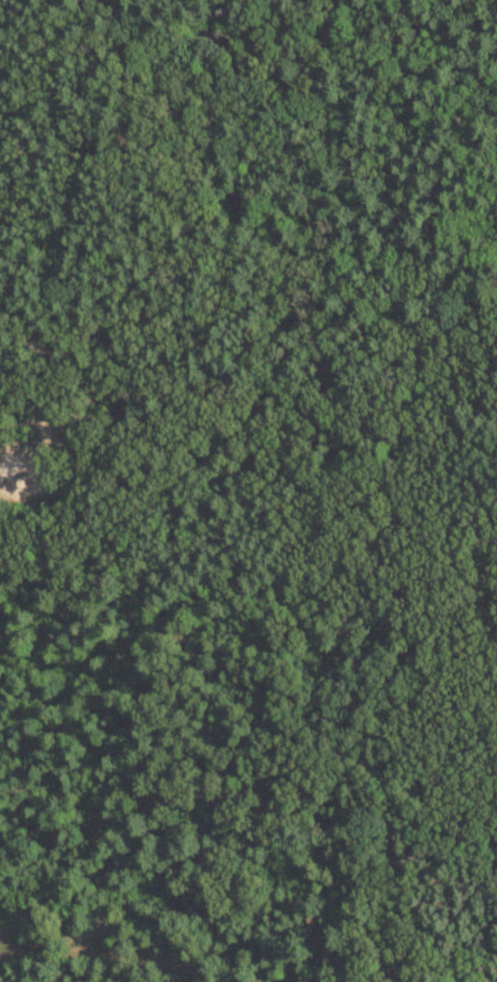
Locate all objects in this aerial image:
road: (447, 46)
road: (340, 363)
road: (388, 557)

